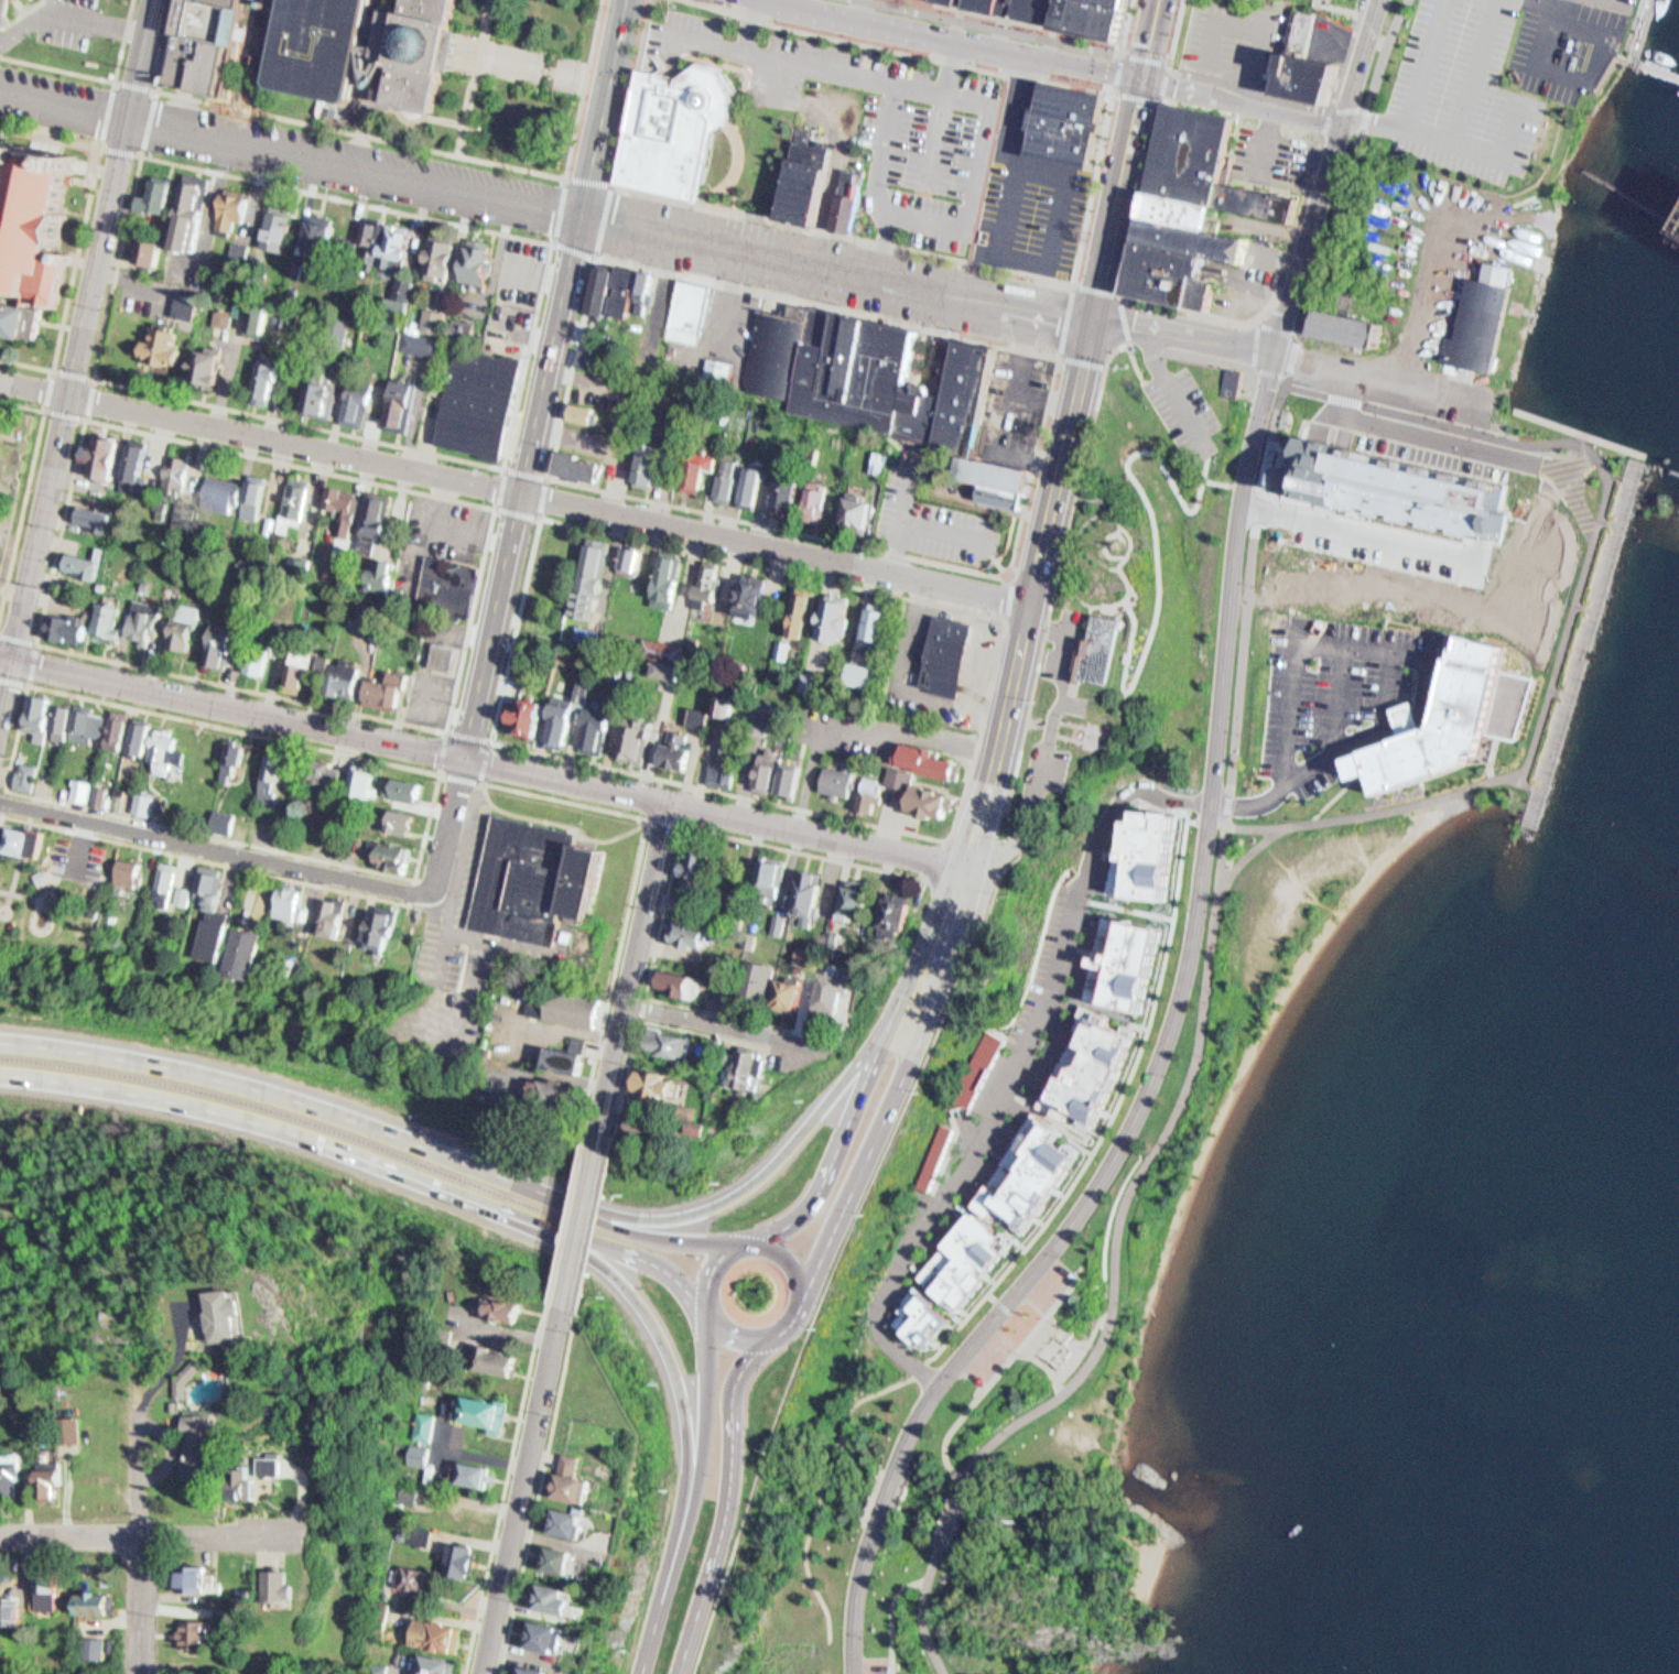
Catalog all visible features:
building: (960, 0)
road: (808, 2)
building: (993, 2)
building: (1039, 7)
road: (1337, 8)
building: (7, 12)
building: (1102, 14)
road: (1049, 25)
road: (1177, 32)
road: (1541, 33)
road: (966, 39)
building: (207, 44)
building: (325, 45)
parking lot: (1570, 45)
road: (1126, 48)
building: (432, 50)
road: (1117, 52)
road: (1347, 56)
road: (1382, 59)
road: (533, 65)
building: (1309, 66)
pier: (1656, 67)
road: (97, 76)
road: (476, 77)
traffic signals: (1145, 78)
parking lot: (1461, 94)
road: (1138, 95)
road: (1416, 99)
road: (1242, 100)
road: (425, 115)
building: (676, 122)
building: (1071, 123)
road: (1328, 123)
road: (403, 142)
building: (1193, 153)
road: (140, 154)
road: (1324, 174)
building: (809, 178)
building: (150, 189)
road: (1144, 193)
building: (161, 197)
building: (847, 198)
building: (226, 202)
building: (1264, 204)
road: (546, 207)
building: (1184, 207)
building: (181, 208)
building: (235, 209)
building: (194, 215)
building: (271, 219)
building: (39, 221)
building: (280, 227)
building: (311, 227)
road: (80, 235)
building: (365, 237)
building: (386, 237)
building: (1200, 238)
building: (142, 246)
building: (398, 249)
road: (594, 251)
building: (437, 260)
building: (477, 260)
building: (1177, 275)
road: (1057, 279)
building: (603, 291)
building: (635, 294)
road: (1425, 297)
building: (390, 298)
building: (178, 300)
building: (187, 307)
building: (247, 309)
building: (689, 311)
building: (218, 313)
building: (22, 318)
building: (432, 320)
building: (1484, 323)
building: (1352, 326)
road: (79, 328)
road: (1185, 333)
building: (421, 339)
road: (1256, 341)
building: (154, 343)
building: (784, 346)
road: (1059, 351)
road: (1058, 356)
building: (198, 359)
building: (589, 359)
building: (209, 367)
building: (259, 369)
building: (862, 369)
building: (719, 374)
road: (1379, 374)
road: (546, 378)
building: (268, 382)
road: (1166, 382)
building: (1234, 382)
building: (313, 390)
building: (350, 395)
building: (394, 395)
building: (968, 395)
parking lot: (1180, 399)
building: (479, 402)
building: (403, 404)
road: (1367, 404)
building: (922, 407)
road: (1156, 409)
building: (585, 411)
road: (86, 417)
road: (1069, 434)
road: (1406, 436)
building: (98, 448)
road: (1203, 457)
building: (639, 458)
building: (127, 461)
building: (578, 464)
building: (652, 464)
building: (690, 464)
building: (137, 466)
road: (505, 466)
building: (169, 468)
building: (704, 470)
building: (724, 470)
building: (1000, 474)
building: (746, 478)
building: (732, 480)
building: (779, 483)
building: (217, 485)
building: (755, 485)
road: (25, 487)
building: (247, 489)
road: (516, 490)
building: (791, 492)
building: (809, 494)
building: (290, 496)
building: (1006, 497)
building: (254, 498)
building: (337, 502)
building: (370, 506)
building: (848, 508)
building: (89, 510)
building: (863, 512)
road: (537, 514)
building: (184, 515)
road: (1357, 530)
road: (1597, 531)
building: (316, 532)
building: (76, 556)
road: (1157, 558)
building: (629, 559)
road: (1106, 559)
building: (668, 570)
building: (376, 573)
building: (591, 577)
building: (442, 579)
building: (707, 584)
building: (756, 593)
road: (1006, 596)
road: (1094, 602)
building: (138, 613)
building: (802, 613)
building: (99, 615)
building: (369, 617)
road: (1001, 617)
building: (180, 619)
building: (838, 619)
building: (58, 621)
building: (879, 631)
building: (614, 637)
building: (213, 640)
building: (693, 642)
building: (436, 649)
building: (662, 649)
building: (782, 649)
building: (1109, 649)
building: (947, 653)
building: (444, 654)
building: (249, 656)
road: (31, 659)
building: (259, 661)
building: (667, 668)
building: (288, 671)
building: (300, 674)
building: (334, 674)
building: (862, 677)
road: (4, 681)
building: (380, 686)
building: (811, 686)
parking lot: (1355, 695)
building: (723, 703)
road: (230, 705)
building: (32, 714)
building: (564, 715)
building: (531, 716)
building: (54, 717)
building: (697, 717)
building: (1465, 717)
building: (78, 720)
building: (63, 722)
building: (108, 726)
building: (597, 727)
road: (446, 729)
building: (131, 733)
building: (638, 739)
building: (1277, 747)
building: (155, 748)
building: (676, 750)
building: (226, 756)
building: (237, 757)
building: (929, 761)
building: (723, 768)
building: (769, 769)
building: (266, 770)
building: (318, 770)
building: (20, 771)
road: (438, 772)
building: (28, 776)
building: (275, 778)
building: (901, 778)
building: (355, 779)
building: (792, 780)
road: (479, 781)
building: (839, 782)
building: (73, 784)
building: (399, 784)
building: (414, 786)
building: (91, 790)
building: (113, 794)
building: (102, 795)
building: (870, 796)
road: (2, 797)
building: (138, 800)
building: (932, 801)
building: (121, 802)
road: (1266, 802)
building: (150, 803)
road: (715, 812)
road: (1384, 813)
building: (217, 814)
building: (389, 815)
building: (403, 822)
road: (665, 822)
road: (448, 824)
building: (14, 838)
road: (1223, 845)
road: (216, 847)
building: (386, 851)
road: (1248, 857)
road: (935, 858)
road: (206, 859)
building: (119, 868)
building: (705, 871)
building: (134, 872)
road: (672, 879)
building: (772, 879)
building: (158, 880)
building: (542, 882)
road: (965, 883)
road: (414, 890)
building: (176, 891)
building: (813, 895)
road: (631, 896)
building: (281, 898)
building: (858, 901)
building: (294, 904)
building: (689, 905)
building: (205, 909)
building: (324, 913)
building: (219, 915)
building: (340, 917)
building: (899, 921)
building: (371, 924)
building: (387, 930)
building: (692, 933)
building: (236, 946)
road: (975, 948)
road: (1190, 953)
building: (254, 955)
building: (804, 957)
road: (635, 974)
building: (684, 982)
building: (761, 982)
road: (641, 993)
building: (794, 996)
building: (835, 996)
building: (542, 1004)
building: (575, 1008)
road: (718, 1022)
building: (673, 1043)
building: (1060, 1043)
building: (714, 1052)
building: (573, 1055)
road: (1019, 1066)
building: (1084, 1068)
building: (755, 1069)
building: (978, 1069)
road: (874, 1079)
building: (656, 1084)
road: (627, 1087)
road: (897, 1100)
road: (268, 1124)
road: (376, 1126)
building: (641, 1128)
road: (1098, 1144)
road: (781, 1152)
building: (939, 1153)
building: (1027, 1171)
road: (570, 1222)
road: (581, 1226)
road: (595, 1233)
road: (789, 1250)
road: (624, 1251)
road: (1103, 1255)
building: (963, 1261)
road: (714, 1273)
building: (506, 1307)
road: (1011, 1311)
building: (927, 1316)
building: (228, 1318)
parking lot: (1011, 1329)
road: (1072, 1335)
road: (662, 1337)
road: (769, 1337)
road: (183, 1357)
building: (497, 1359)
road: (1050, 1363)
road: (996, 1377)
building: (188, 1378)
building: (486, 1414)
road: (707, 1416)
building: (430, 1424)
building: (75, 1427)
building: (197, 1444)
road: (834, 1449)
building: (423, 1456)
building: (575, 1464)
building: (272, 1466)
building: (54, 1470)
building: (477, 1476)
building: (12, 1478)
building: (245, 1486)
road: (506, 1487)
building: (575, 1488)
road: (522, 1490)
road: (541, 1492)
road: (307, 1494)
building: (413, 1496)
road: (730, 1502)
road: (880, 1503)
road: (945, 1520)
building: (576, 1522)
road: (142, 1530)
building: (421, 1533)
road: (148, 1534)
building: (463, 1561)
building: (561, 1561)
road: (802, 1564)
building: (198, 1578)
building: (413, 1579)
building: (279, 1587)
building: (52, 1590)
road: (662, 1596)
building: (555, 1599)
building: (96, 1601)
road: (854, 1602)
road: (924, 1611)
road: (891, 1617)
building: (195, 1634)
building: (437, 1635)
building: (553, 1637)
building: (96, 1649)
road: (827, 1657)
parking lot: (874, 1664)
building: (437, 1665)
building: (382, 1666)
building: (532, 1671)

